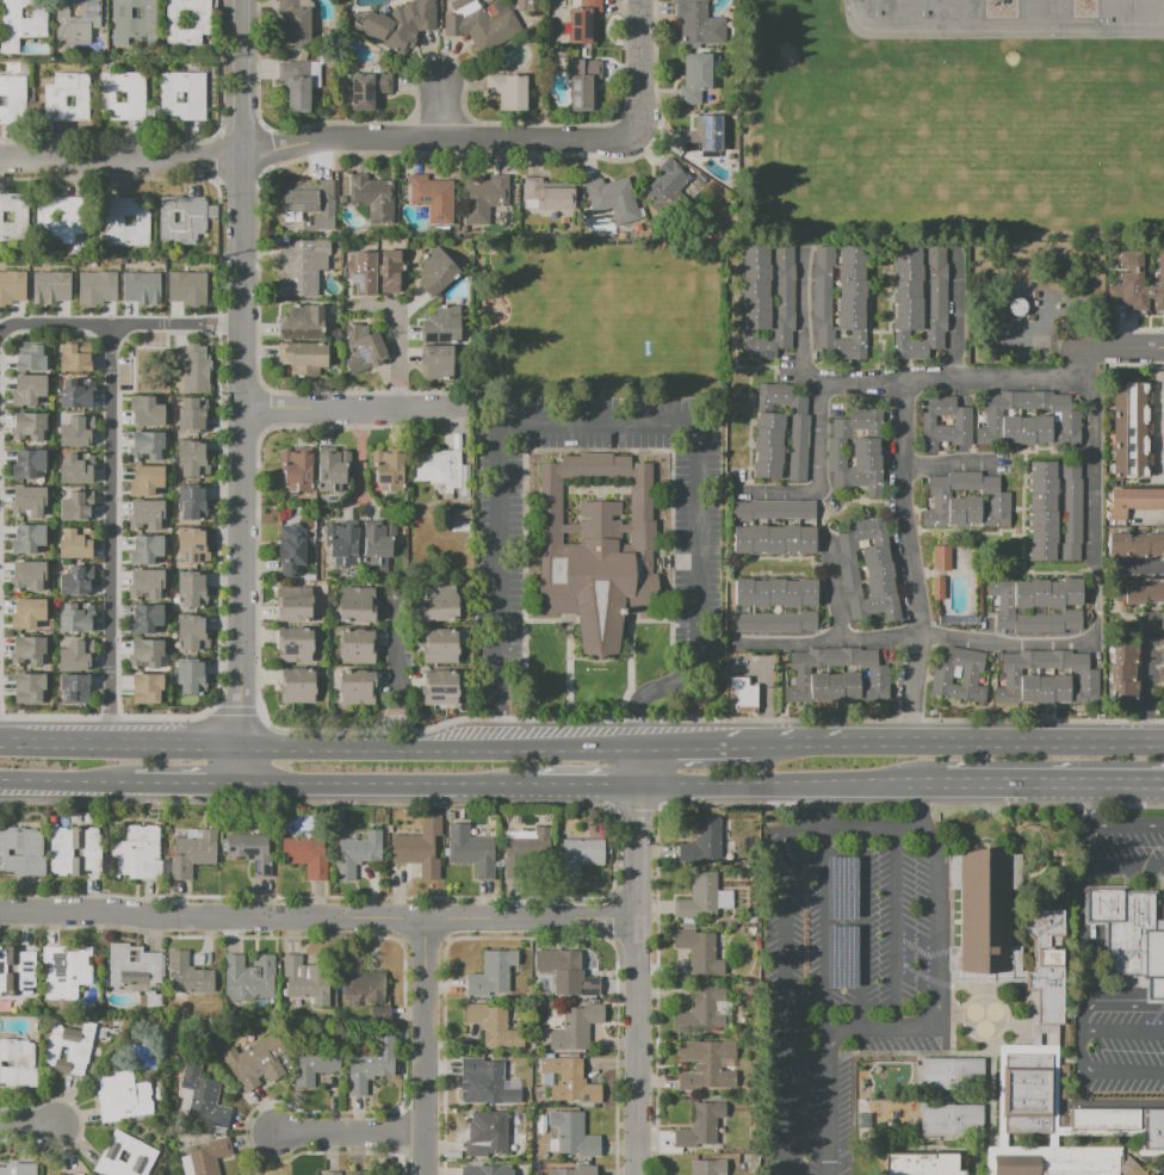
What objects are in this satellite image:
park: (1122, 0)
building: (426, 6)
building: (460, 6)
park: (898, 14)
building: (78, 19)
park: (1133, 20)
building: (20, 21)
building: (296, 21)
building: (134, 23)
building: (188, 23)
building: (586, 23)
building: (699, 24)
building: (487, 29)
building: (398, 30)
road: (996, 31)
road: (642, 67)
building: (696, 79)
building: (586, 85)
building: (296, 86)
building: (370, 91)
building: (510, 92)
building: (124, 95)
building: (185, 97)
building: (68, 99)
building: (13, 101)
road: (440, 110)
park: (946, 128)
building: (706, 136)
road: (316, 142)
park: (1052, 155)
building: (673, 186)
building: (431, 197)
building: (550, 197)
building: (307, 199)
building: (373, 199)
building: (485, 199)
building: (614, 199)
building: (12, 217)
building: (63, 218)
building: (184, 221)
building: (126, 224)
building: (301, 266)
building: (390, 271)
building: (360, 272)
building: (434, 273)
building: (1134, 283)
building: (12, 286)
building: (50, 287)
building: (95, 287)
building: (141, 287)
building: (186, 287)
building: (840, 299)
building: (766, 301)
building: (920, 301)
building: (301, 321)
road: (118, 324)
building: (441, 327)
road: (400, 344)
road: (1121, 347)
building: (367, 351)
building: (302, 354)
building: (30, 359)
building: (73, 359)
building: (439, 363)
building: (140, 366)
building: (193, 369)
road: (239, 372)
road: (812, 376)
road: (860, 384)
building: (27, 389)
building: (75, 394)
road: (346, 408)
road: (1157, 412)
building: (148, 413)
building: (190, 416)
building: (961, 419)
building: (1027, 419)
road: (588, 420)
building: (29, 426)
building: (780, 429)
building: (1128, 429)
building: (75, 431)
building: (148, 445)
building: (855, 451)
road: (360, 460)
building: (30, 462)
building: (191, 462)
road: (902, 462)
road: (945, 463)
road: (1092, 463)
building: (75, 469)
building: (438, 469)
building: (329, 471)
building: (298, 472)
building: (389, 472)
building: (147, 481)
road: (782, 493)
building: (27, 500)
road: (367, 500)
building: (966, 500)
building: (1134, 500)
building: (190, 502)
building: (74, 506)
building: (774, 508)
building: (1042, 511)
building: (1071, 511)
building: (148, 514)
building: (457, 519)
road: (109, 532)
building: (320, 533)
building: (27, 538)
building: (774, 539)
building: (74, 544)
building: (343, 545)
building: (376, 545)
building: (289, 546)
building: (1135, 546)
building: (192, 548)
building: (150, 550)
building: (595, 551)
parking lot: (696, 551)
building: (941, 558)
road: (1138, 567)
building: (866, 568)
building: (27, 575)
building: (308, 577)
building: (74, 581)
building: (149, 582)
building: (318, 587)
road: (834, 587)
building: (939, 587)
building: (1144, 590)
building: (191, 592)
building: (775, 593)
building: (439, 604)
building: (1035, 604)
building: (357, 606)
building: (296, 608)
building: (27, 613)
building: (75, 618)
building: (147, 618)
building: (773, 621)
road: (918, 632)
building: (191, 635)
building: (297, 645)
building: (442, 645)
building: (355, 647)
building: (29, 649)
building: (145, 654)
building: (1163, 655)
building: (74, 656)
road: (401, 657)
building: (1123, 674)
building: (835, 675)
building: (956, 675)
building: (190, 678)
building: (1045, 678)
road: (1146, 680)
building: (297, 686)
building: (27, 687)
building: (357, 687)
building: (73, 688)
building: (147, 688)
road: (649, 688)
building: (444, 689)
building: (743, 692)
road: (499, 705)
road: (391, 728)
road: (409, 729)
road: (119, 742)
road: (856, 742)
road: (1038, 742)
road: (781, 743)
road: (700, 744)
road: (311, 746)
road: (568, 746)
road: (440, 747)
road: (240, 767)
road: (73, 786)
road: (1044, 787)
road: (192, 789)
road: (312, 789)
road: (456, 789)
road: (581, 789)
road: (779, 789)
road: (1084, 805)
road: (810, 808)
road: (923, 808)
road: (850, 828)
road: (636, 831)
building: (702, 841)
road: (1085, 845)
building: (197, 848)
building: (74, 851)
building: (250, 851)
building: (524, 851)
building: (20, 852)
building: (136, 853)
building: (358, 853)
building: (473, 853)
building: (416, 854)
building: (580, 855)
building: (307, 856)
building: (841, 888)
building: (700, 897)
road: (212, 917)
road: (531, 919)
building: (984, 919)
building: (688, 926)
road: (893, 927)
road: (823, 928)
road: (860, 928)
building: (1129, 935)
building: (699, 951)
building: (841, 956)
building: (1048, 963)
building: (134, 964)
building: (66, 965)
building: (17, 970)
building: (491, 973)
building: (566, 973)
parking lot: (841, 973)
building: (187, 975)
building: (247, 978)
building: (303, 979)
building: (361, 981)
road: (781, 1001)
road: (935, 1002)
road: (1114, 1006)
building: (708, 1009)
building: (380, 1013)
building: (553, 1020)
building: (493, 1025)
building: (575, 1027)
road: (1121, 1027)
building: (541, 1037)
building: (70, 1045)
road: (427, 1046)
road: (637, 1046)
building: (17, 1062)
building: (254, 1062)
building: (704, 1063)
building: (314, 1064)
building: (371, 1064)
road: (1102, 1070)
building: (951, 1075)
building: (487, 1078)
building: (566, 1080)
building: (1027, 1090)
building: (202, 1094)
building: (186, 1095)
building: (123, 1099)
road: (826, 1102)
road: (27, 1123)
building: (540, 1123)
building: (953, 1123)
building: (1120, 1124)
building: (700, 1125)
road: (348, 1131)
building: (574, 1134)
building: (489, 1136)
building: (552, 1145)
building: (710, 1145)
building: (208, 1156)
building: (124, 1157)
building: (745, 1158)
building: (1053, 1161)
building: (186, 1164)
building: (922, 1165)
building: (707, 1167)
building: (17, 1168)
building: (484, 1170)
building: (572, 1170)
building: (1137, 1170)
building: (358, 1173)
building: (78, 1174)
building: (329, 1174)

